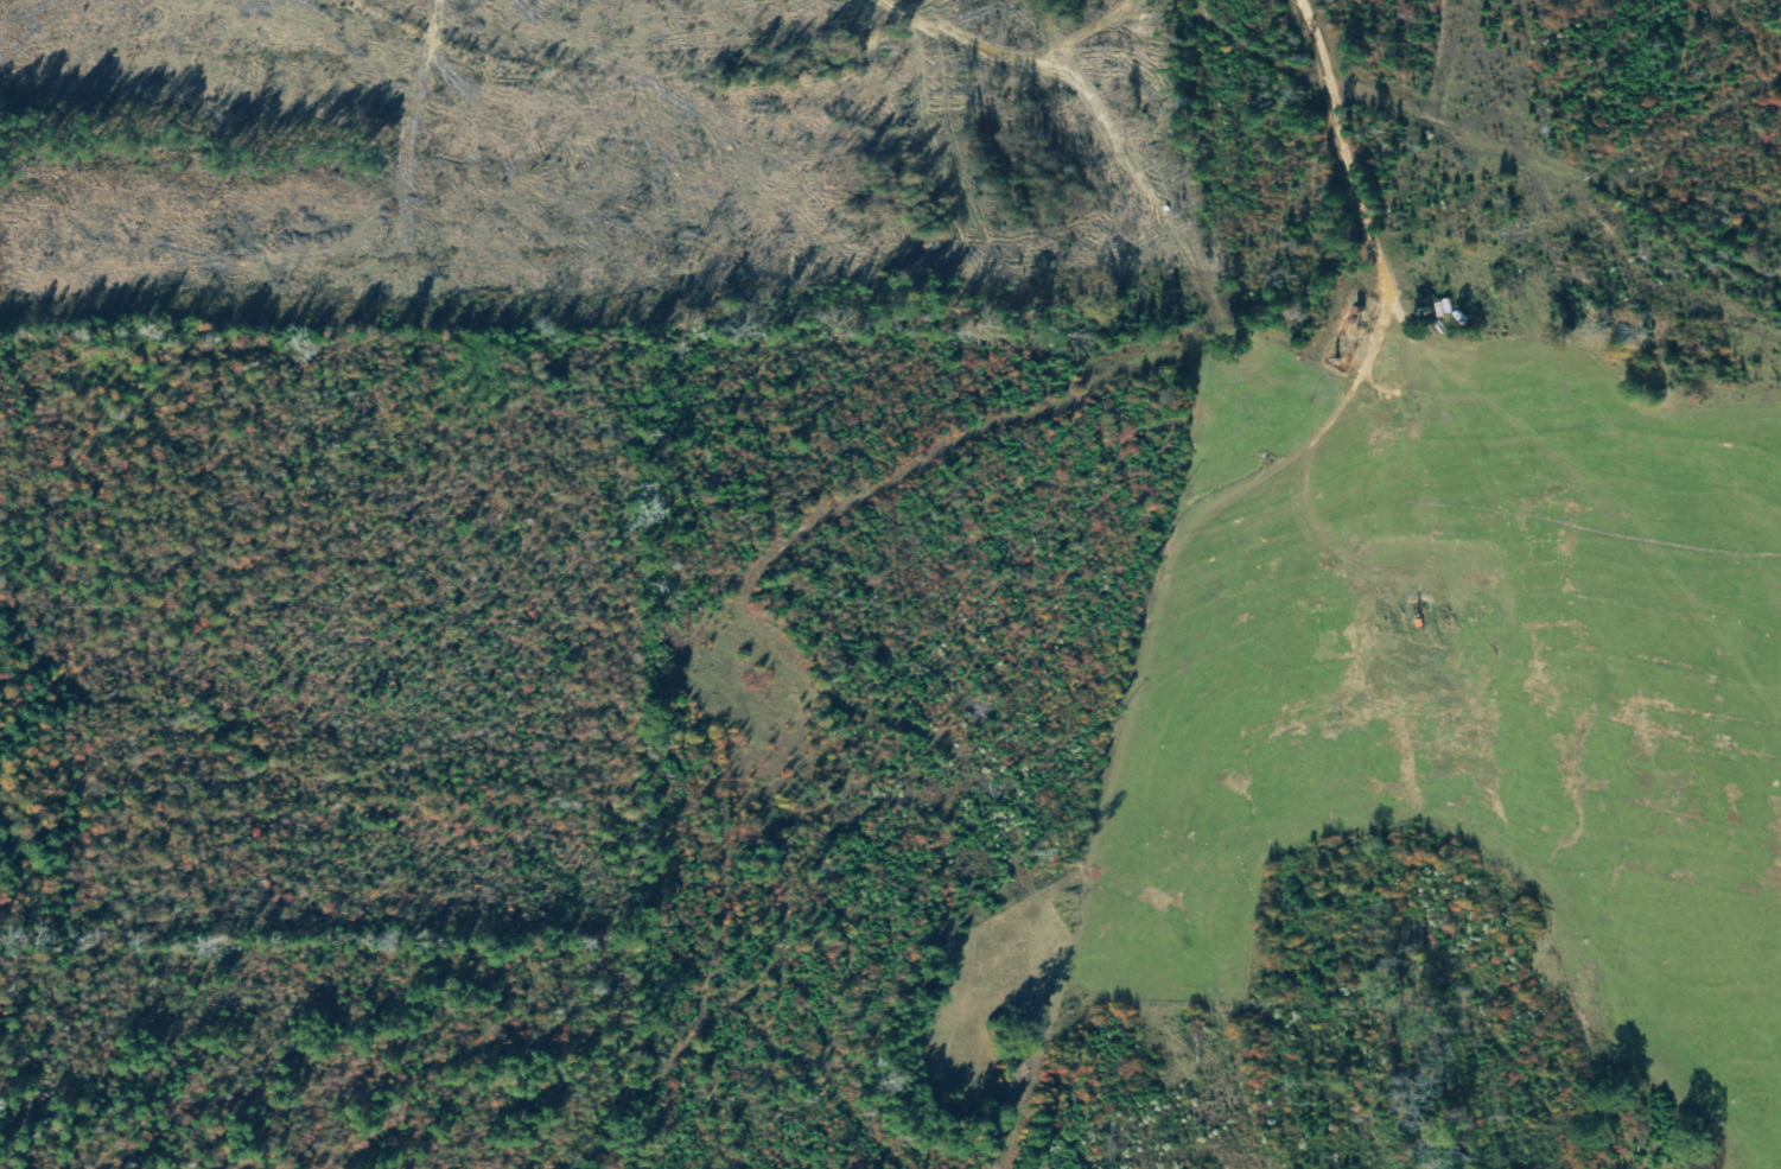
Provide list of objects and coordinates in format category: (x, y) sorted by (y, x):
road: (991, 43)
road: (1341, 146)
road: (1387, 387)

